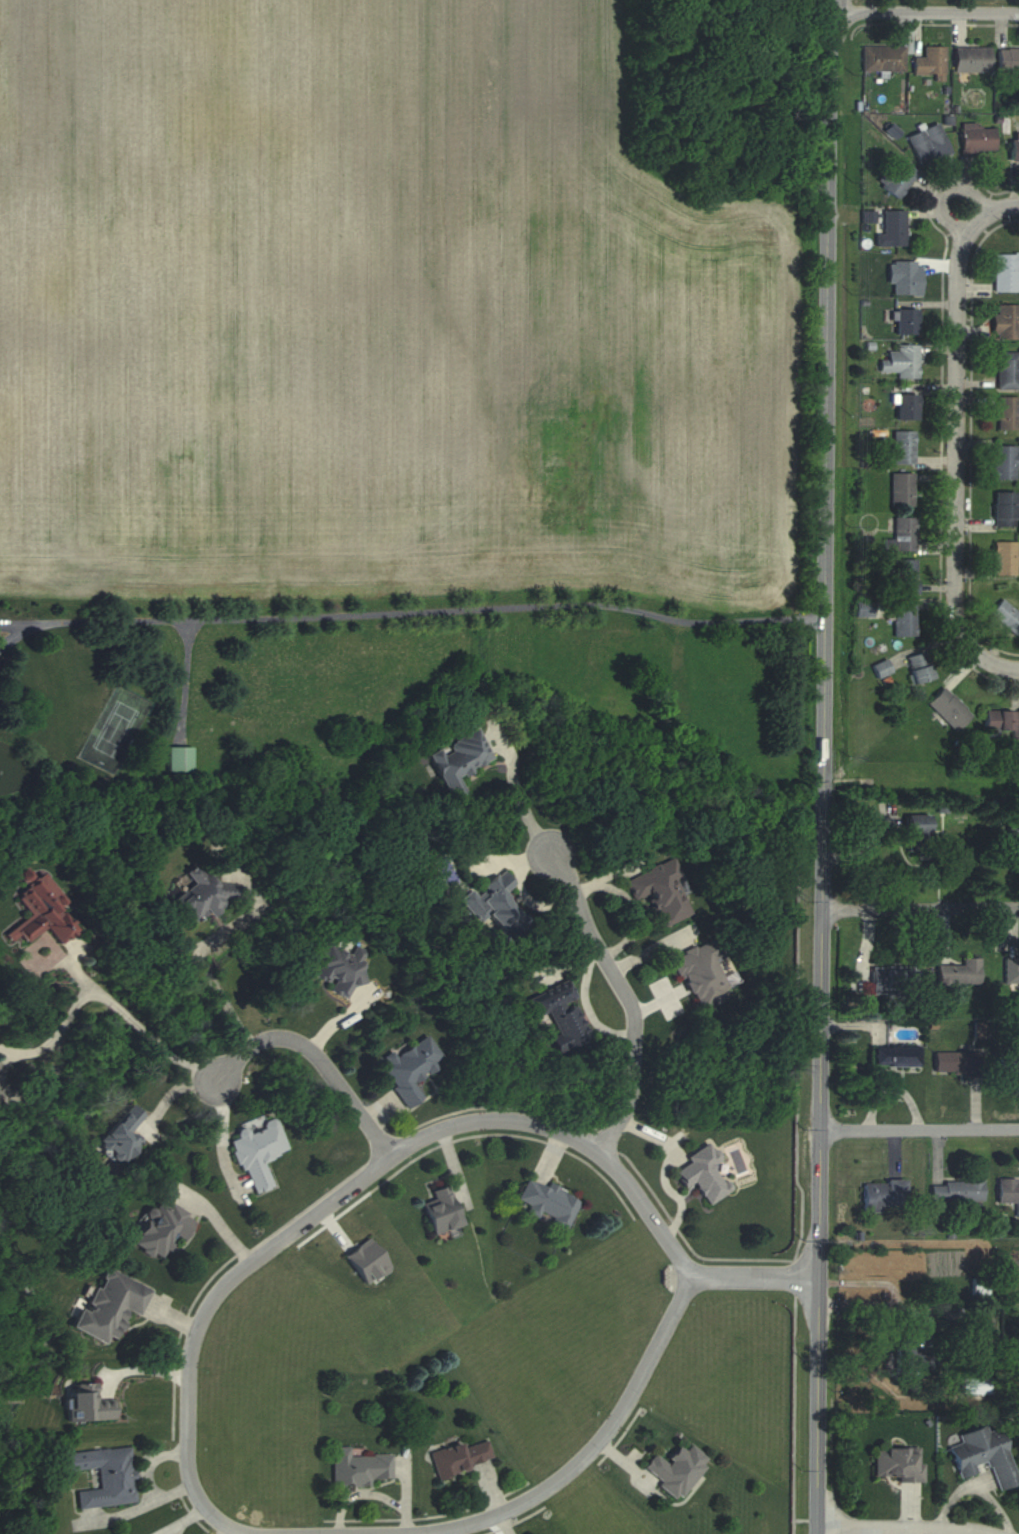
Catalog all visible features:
road: (925, 12)
building: (882, 59)
building: (971, 59)
building: (1008, 59)
building: (930, 63)
building: (977, 138)
building: (928, 144)
building: (1014, 150)
building: (896, 179)
road: (942, 190)
building: (886, 227)
building: (1005, 272)
building: (904, 278)
building: (905, 322)
building: (1005, 322)
building: (903, 362)
building: (1007, 370)
building: (905, 407)
building: (1007, 413)
road: (956, 436)
building: (903, 448)
building: (1004, 463)
building: (901, 490)
building: (1003, 508)
building: (904, 533)
building: (1004, 559)
building: (905, 576)
road: (424, 610)
building: (1006, 616)
building: (903, 619)
road: (10, 622)
road: (12, 635)
building: (918, 667)
building: (881, 668)
building: (948, 709)
building: (1001, 720)
building: (178, 758)
building: (458, 760)
road: (827, 767)
road: (517, 794)
building: (916, 832)
building: (1012, 840)
building: (662, 890)
building: (200, 896)
building: (492, 903)
road: (920, 907)
building: (42, 913)
road: (203, 948)
building: (338, 965)
building: (1011, 972)
building: (701, 974)
building: (956, 976)
building: (896, 980)
road: (629, 999)
building: (559, 1016)
road: (138, 1028)
road: (56, 1037)
building: (894, 1057)
road: (316, 1058)
building: (957, 1063)
building: (1008, 1064)
building: (409, 1066)
road: (170, 1091)
road: (921, 1128)
road: (560, 1131)
building: (119, 1136)
building: (256, 1150)
road: (661, 1166)
building: (702, 1174)
building: (956, 1191)
building: (1008, 1193)
building: (881, 1194)
building: (548, 1203)
building: (439, 1210)
building: (159, 1227)
building: (106, 1305)
road: (887, 1305)
road: (933, 1310)
building: (901, 1359)
building: (974, 1386)
road: (189, 1387)
building: (85, 1407)
building: (1017, 1412)
building: (1018, 1431)
road: (595, 1448)
building: (982, 1455)
building: (461, 1456)
building: (896, 1463)
building: (360, 1467)
building: (675, 1469)
building: (104, 1476)
road: (185, 1520)
road: (903, 1525)

